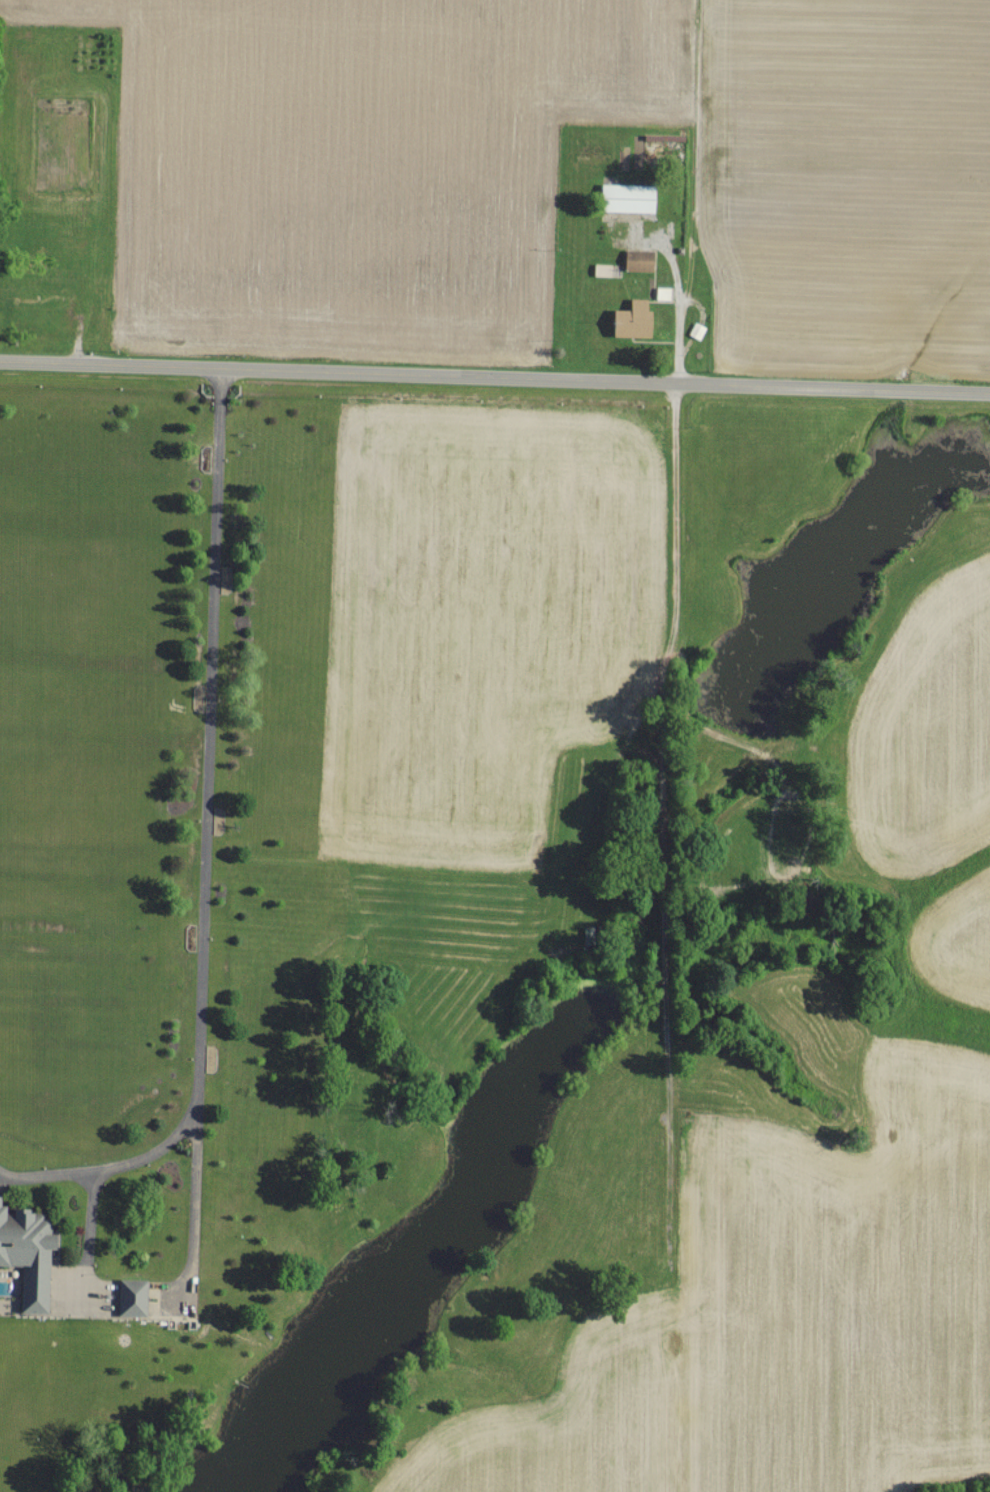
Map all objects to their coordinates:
building: (626, 197)
building: (638, 258)
road: (675, 296)
building: (632, 319)
road: (494, 377)
road: (205, 846)
building: (27, 1253)
building: (131, 1295)

